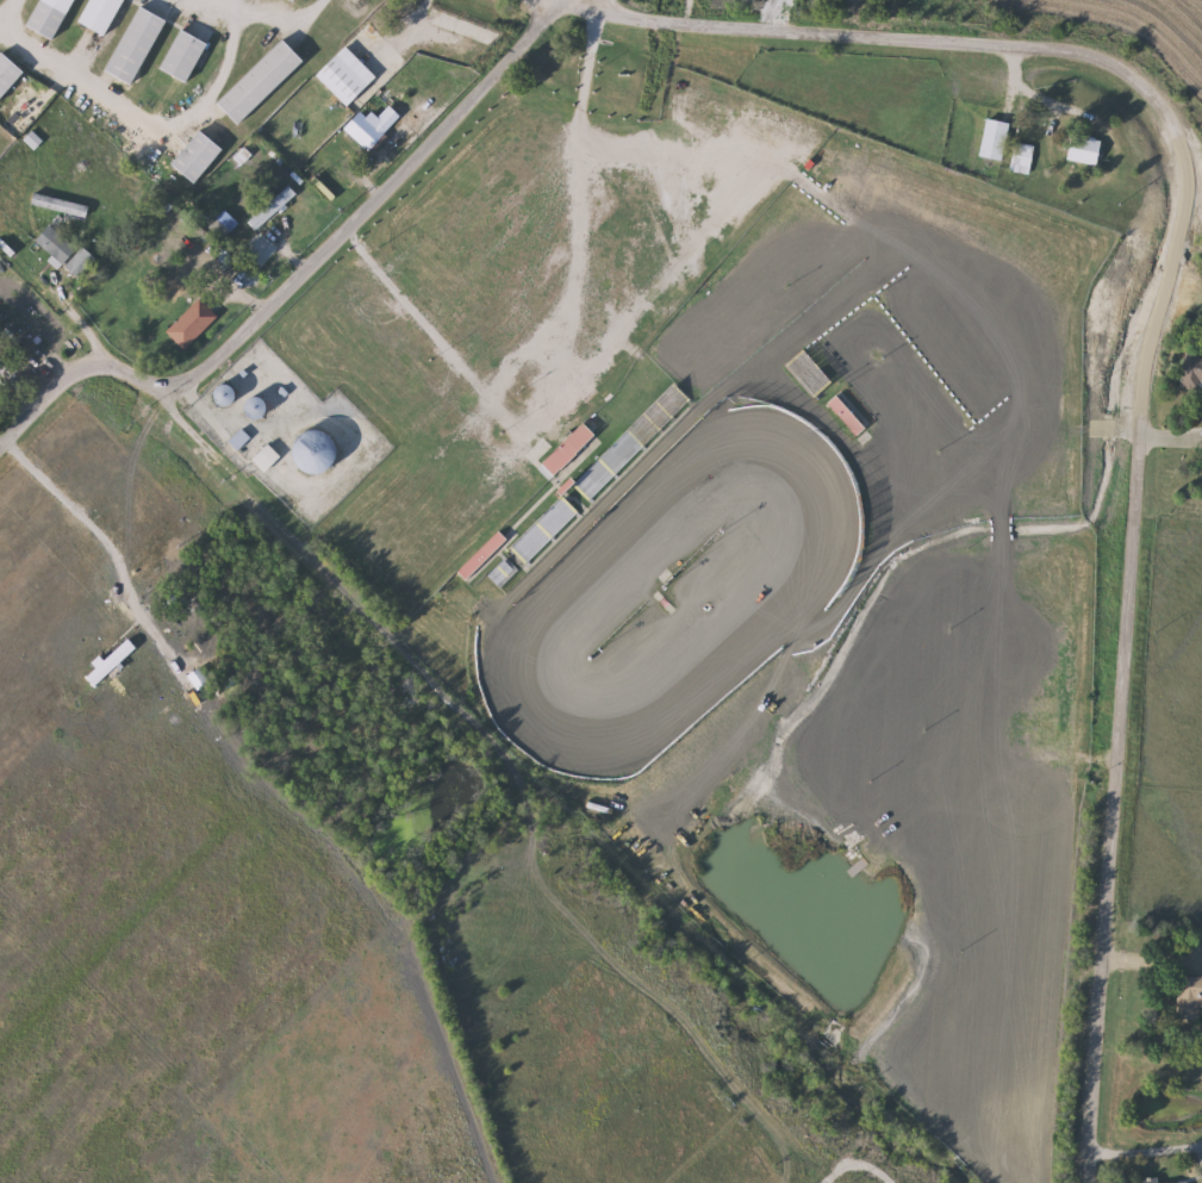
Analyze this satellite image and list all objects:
road: (226, 2)
road: (286, 7)
road: (10, 15)
building: (102, 15)
building: (52, 17)
building: (137, 45)
building: (185, 56)
building: (8, 75)
building: (347, 76)
road: (1016, 76)
building: (262, 82)
road: (145, 114)
building: (373, 127)
road: (1189, 130)
building: (996, 139)
building: (1086, 149)
building: (199, 157)
building: (1023, 157)
road: (336, 167)
building: (64, 250)
road: (306, 268)
road: (226, 278)
building: (193, 324)
road: (1158, 329)
road: (36, 345)
building: (1194, 372)
building: (810, 373)
building: (228, 396)
building: (259, 407)
building: (848, 416)
road: (183, 417)
road: (1172, 435)
building: (319, 453)
building: (267, 459)
road: (82, 516)
building: (484, 554)
road: (1154, 953)
building: (1190, 998)
road: (1146, 1142)
road: (855, 1166)
building: (1151, 1181)

